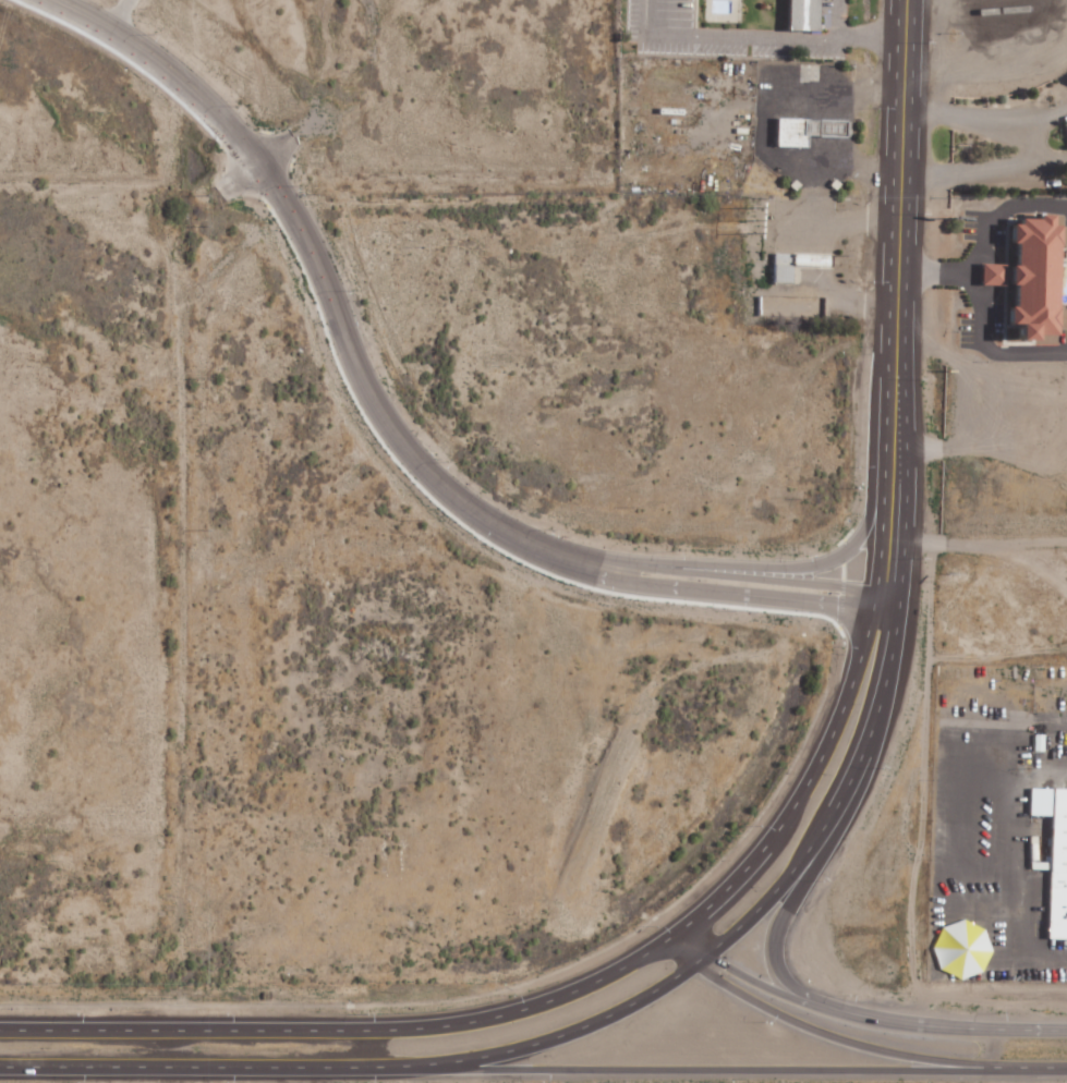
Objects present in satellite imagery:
building: (810, 14)
road: (985, 121)
building: (1064, 126)
building: (811, 131)
road: (899, 153)
road: (983, 170)
road: (999, 210)
road: (932, 266)
building: (1019, 277)
road: (984, 345)
road: (387, 426)
road: (863, 642)
road: (890, 658)
building: (1053, 855)
road: (771, 954)
road: (524, 1006)
road: (842, 1014)
road: (172, 1029)
road: (1047, 1030)
road: (816, 1031)
road: (535, 1043)
road: (170, 1067)
road: (666, 1069)
road: (1029, 1070)

